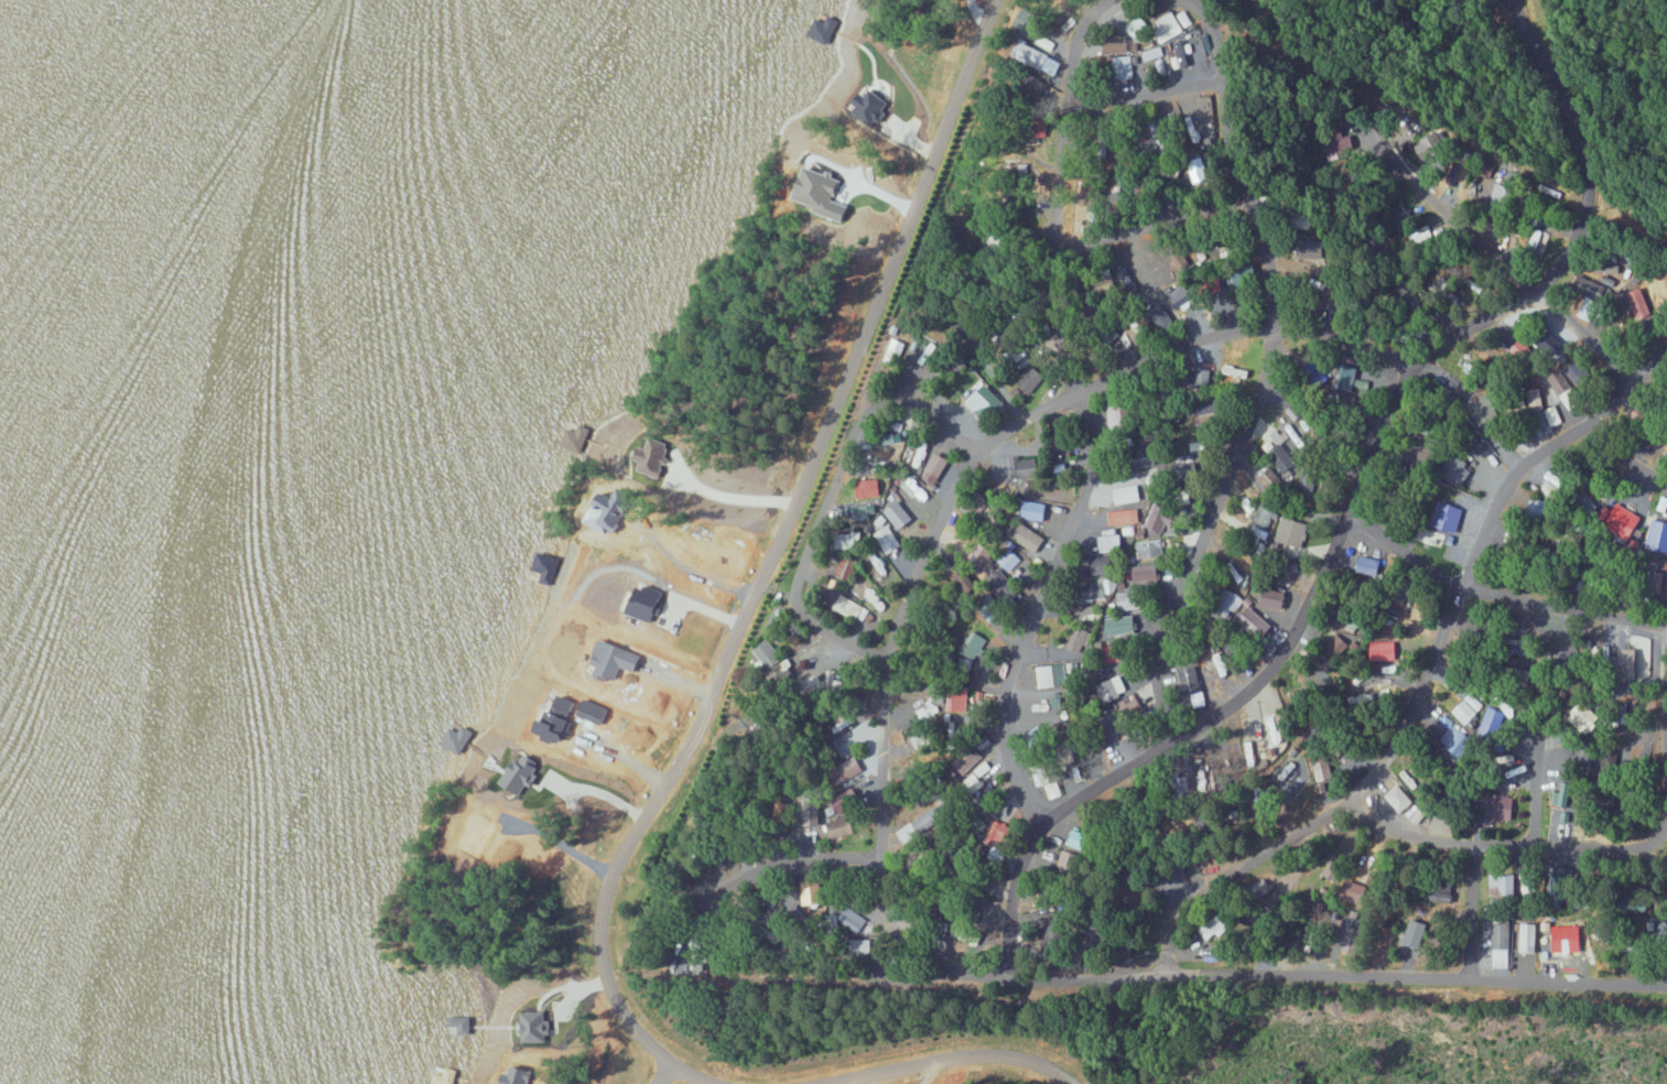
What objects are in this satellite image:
river: (3, 20)
building: (1171, 24)
building: (1189, 52)
building: (1151, 54)
building: (1037, 61)
building: (1124, 68)
road: (1144, 95)
building: (1428, 147)
road: (1230, 164)
building: (1197, 165)
building: (1124, 186)
road: (1054, 194)
building: (1497, 197)
road: (1143, 224)
building: (1539, 238)
road: (1495, 254)
building: (1596, 289)
building: (1183, 296)
building: (1637, 303)
road: (1650, 364)
building: (1574, 371)
building: (1562, 389)
building: (1211, 411)
building: (1122, 412)
building: (1551, 416)
road: (1619, 454)
building: (652, 455)
building: (1146, 455)
building: (1282, 458)
building: (937, 463)
building: (1197, 466)
building: (1460, 469)
building: (1269, 478)
building: (1551, 489)
building: (1127, 494)
road: (1350, 508)
building: (1035, 510)
building: (1262, 513)
building: (1123, 516)
building: (1449, 516)
building: (1159, 517)
building: (1625, 521)
building: (1291, 530)
building: (1657, 534)
building: (1028, 536)
road: (1204, 536)
building: (851, 539)
building: (887, 539)
building: (1109, 541)
building: (1149, 548)
building: (1368, 564)
road: (761, 572)
road: (838, 572)
building: (1145, 572)
road: (1496, 594)
building: (1132, 599)
building: (646, 601)
building: (848, 606)
road: (1036, 609)
building: (1255, 621)
building: (972, 646)
building: (1639, 646)
building: (1339, 649)
building: (766, 650)
building: (1382, 650)
building: (1630, 660)
building: (1056, 673)
building: (1200, 674)
building: (1111, 687)
road: (1417, 696)
building: (1156, 704)
building: (1465, 707)
building: (1583, 716)
building: (1491, 720)
building: (1281, 722)
road: (1536, 725)
building: (1453, 740)
building: (1583, 754)
building: (521, 770)
building: (1040, 773)
building: (1322, 773)
building: (968, 783)
building: (1562, 794)
building: (1397, 798)
building: (1501, 806)
building: (921, 824)
building: (841, 826)
building: (998, 833)
building: (1082, 838)
road: (1600, 839)
road: (880, 844)
building: (1068, 860)
road: (800, 868)
building: (1502, 884)
building: (1524, 887)
building: (1442, 896)
road: (1468, 913)
building: (1360, 921)
building: (1211, 925)
building: (1656, 926)
building: (1415, 933)
building: (1527, 936)
building: (1353, 939)
building: (1501, 944)
building: (462, 1023)
road: (939, 1059)

